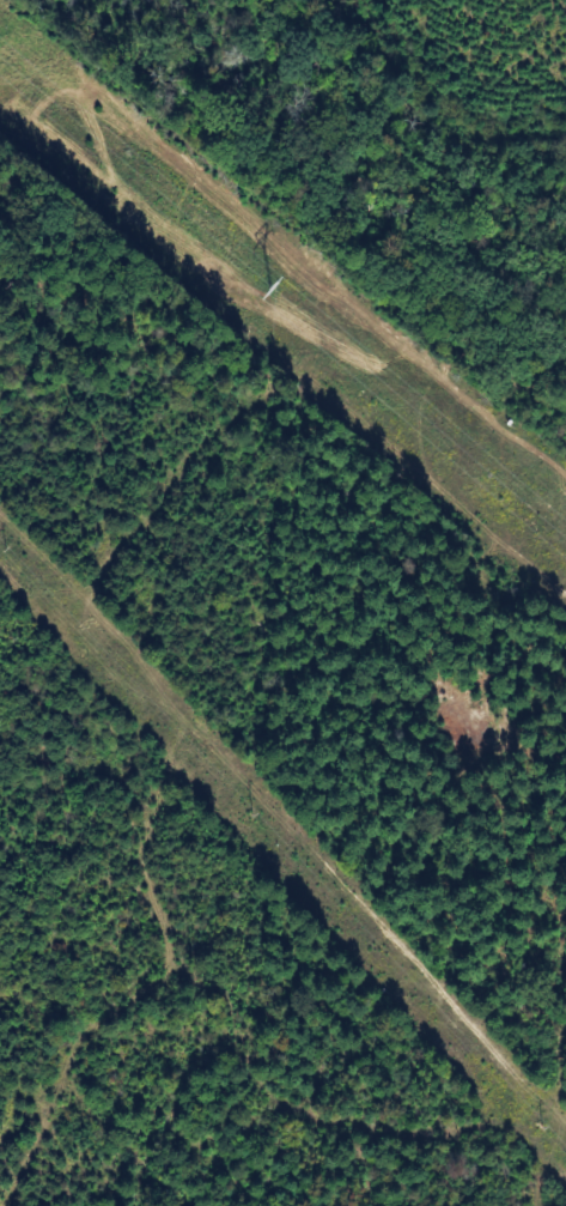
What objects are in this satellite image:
power tower: (272, 290)
power tower: (7, 549)
power tower: (254, 816)
road: (564, 904)
power tower: (544, 1127)

